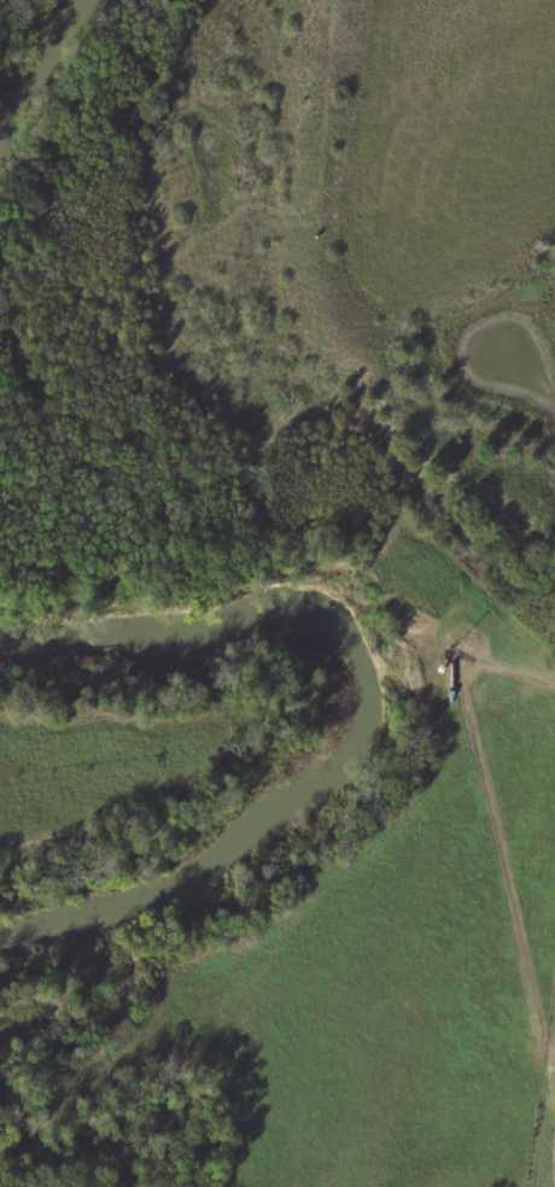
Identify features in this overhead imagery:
river: (37, 62)
river: (356, 725)

